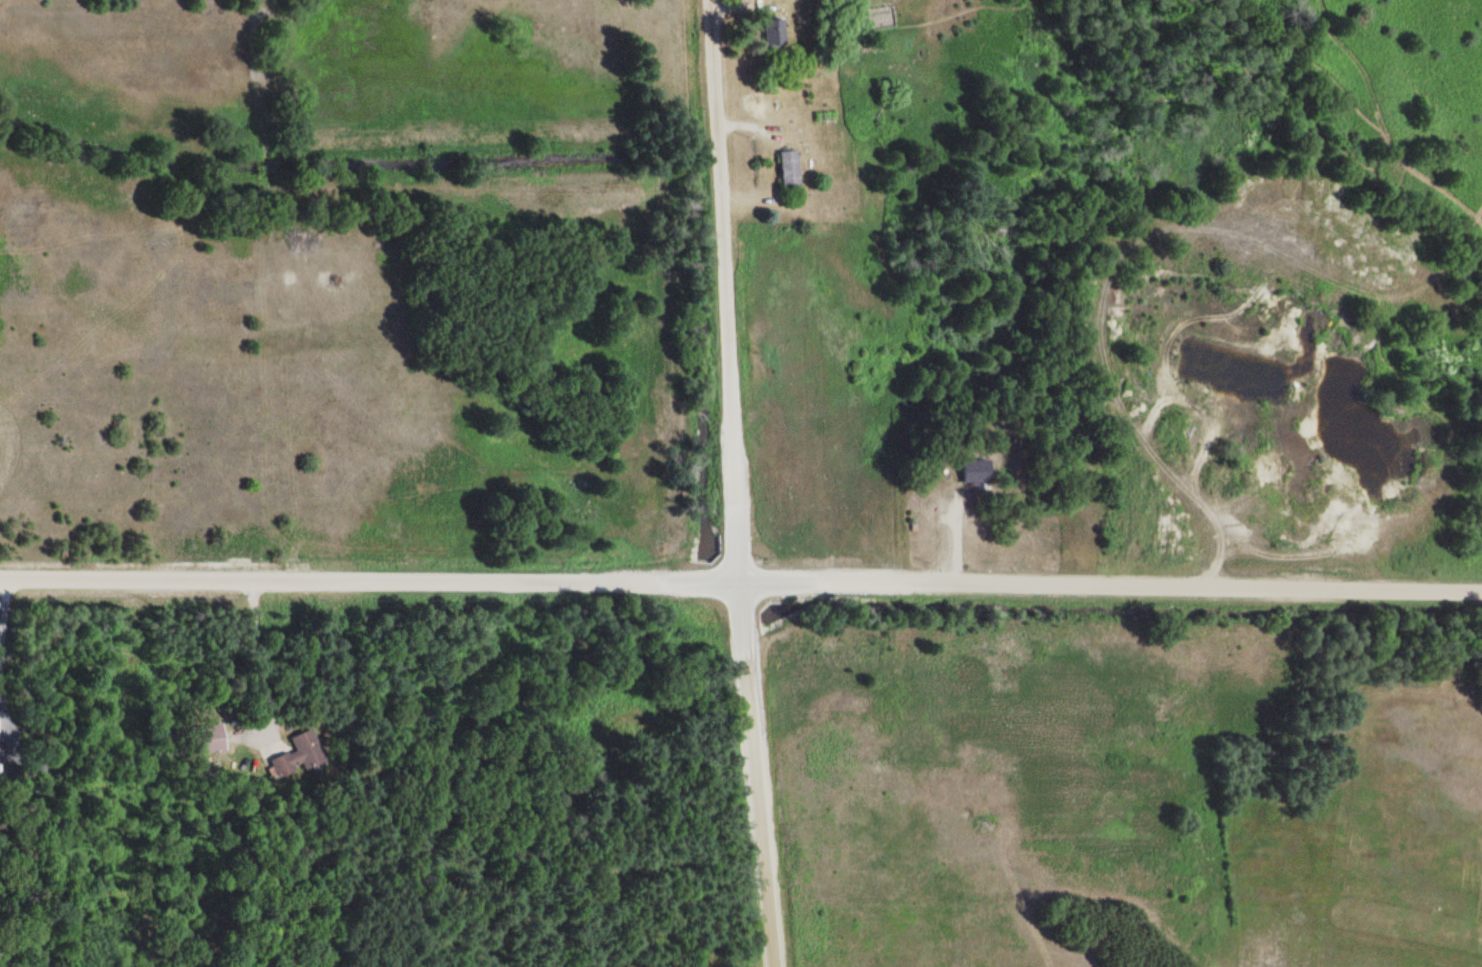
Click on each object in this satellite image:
building: (776, 30)
road: (617, 94)
building: (791, 168)
building: (977, 471)
road: (731, 484)
road: (740, 585)
building: (296, 756)

